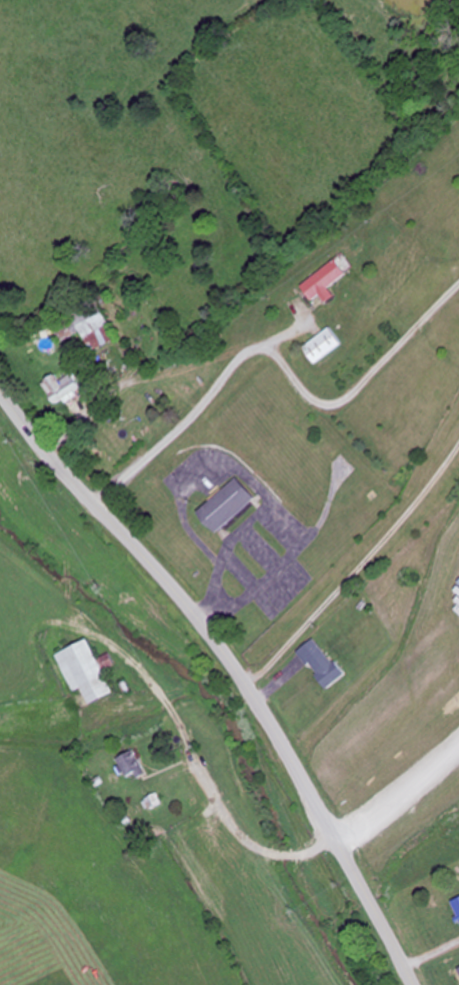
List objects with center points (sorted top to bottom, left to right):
building: (323, 282)
building: (85, 326)
building: (322, 345)
road: (275, 356)
building: (61, 386)
building: (225, 506)
building: (320, 664)
road: (233, 669)
building: (87, 671)
building: (129, 766)
building: (456, 908)
building: (458, 969)

